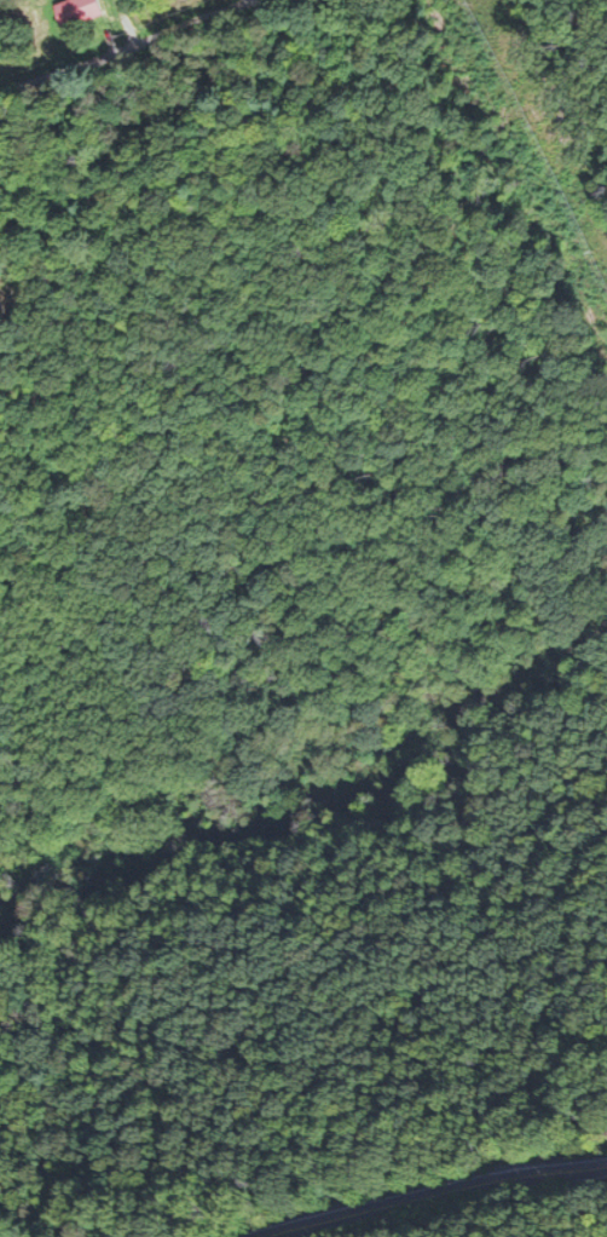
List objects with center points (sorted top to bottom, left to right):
building: (79, 11)
road: (68, 104)
road: (434, 1197)

